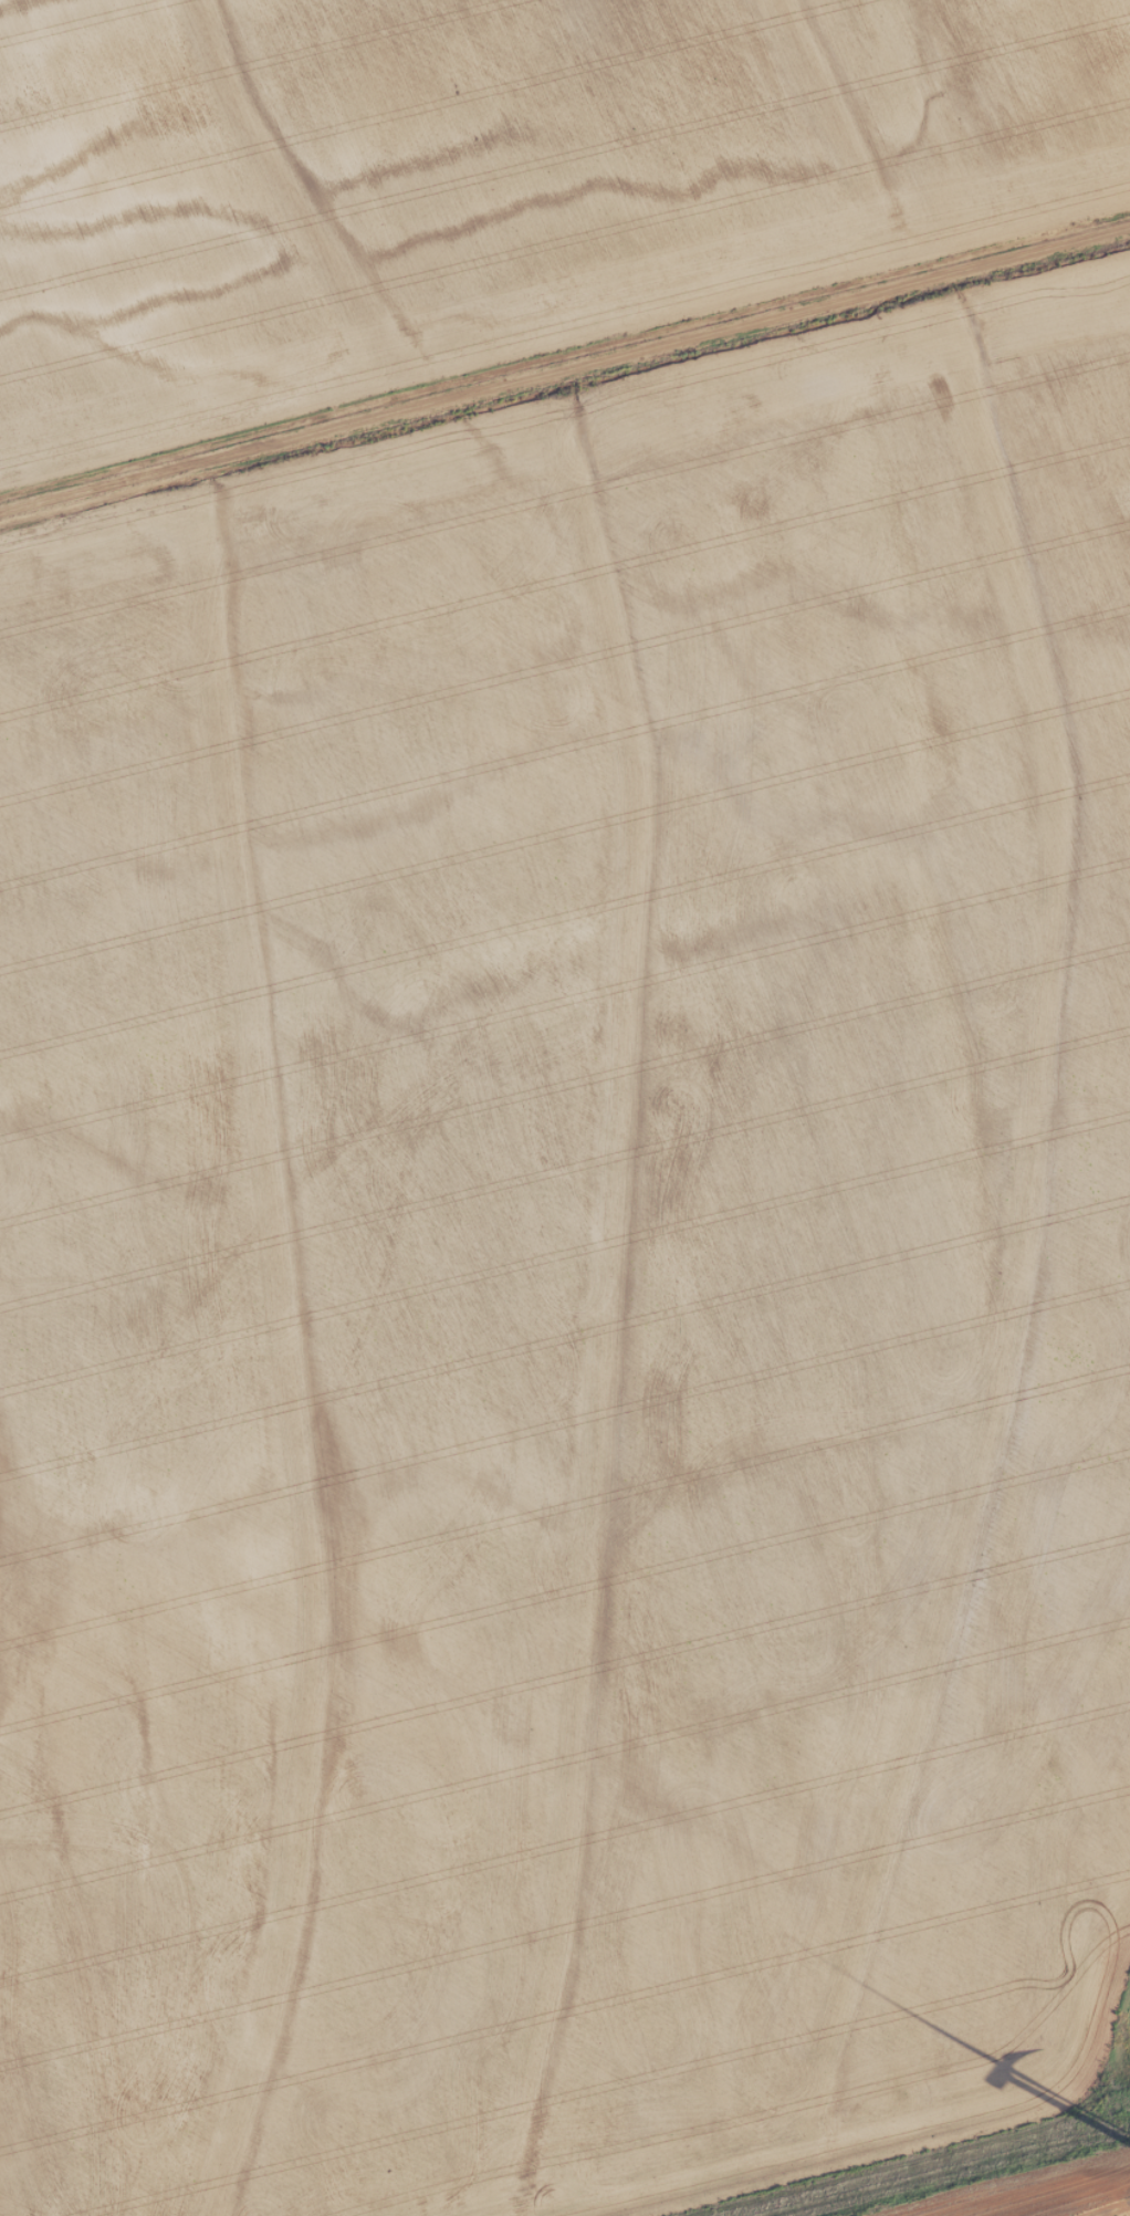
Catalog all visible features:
road: (565, 365)

